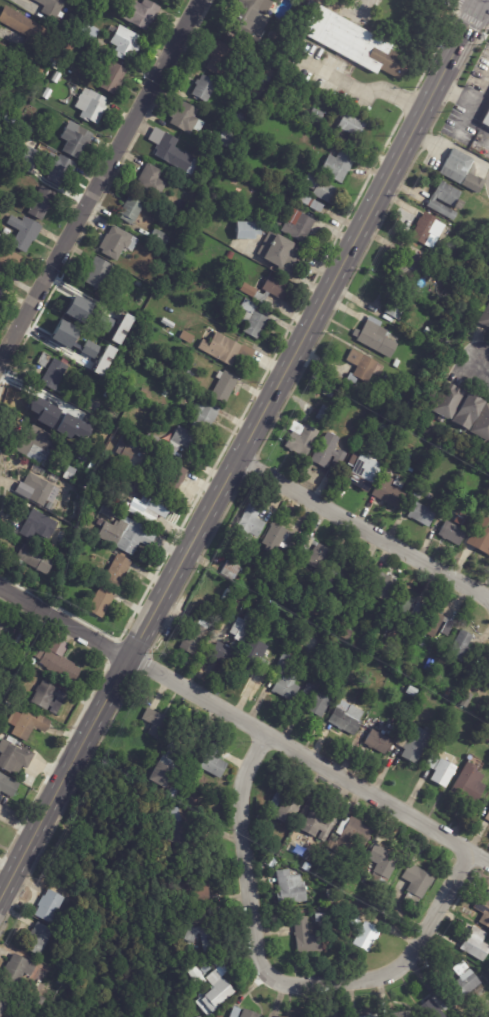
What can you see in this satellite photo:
building: (158, 0)
road: (482, 3)
traffic signals: (482, 3)
building: (310, 4)
road: (359, 4)
building: (49, 7)
building: (86, 12)
building: (137, 14)
building: (246, 16)
building: (23, 28)
building: (84, 32)
building: (481, 36)
building: (354, 43)
building: (123, 44)
building: (68, 46)
building: (4, 52)
building: (45, 59)
building: (219, 60)
building: (38, 69)
building: (266, 75)
building: (109, 79)
road: (362, 84)
building: (201, 88)
building: (299, 96)
road: (465, 98)
building: (88, 107)
building: (316, 115)
building: (5, 117)
building: (182, 117)
building: (485, 119)
building: (237, 120)
building: (12, 121)
building: (21, 125)
building: (347, 128)
building: (29, 130)
building: (74, 140)
building: (225, 140)
building: (0, 146)
building: (171, 152)
building: (18, 155)
building: (311, 166)
building: (335, 167)
building: (454, 167)
building: (57, 169)
building: (215, 169)
road: (100, 180)
building: (148, 182)
building: (470, 183)
building: (319, 190)
building: (443, 201)
building: (307, 203)
building: (40, 205)
building: (128, 210)
building: (191, 217)
building: (272, 223)
building: (295, 226)
building: (245, 231)
building: (425, 231)
building: (22, 233)
building: (156, 238)
building: (114, 246)
building: (228, 255)
building: (278, 255)
building: (7, 259)
building: (159, 262)
building: (407, 267)
building: (97, 274)
building: (138, 284)
building: (266, 290)
building: (0, 291)
building: (0, 294)
building: (392, 304)
building: (77, 306)
building: (485, 319)
building: (250, 321)
building: (104, 323)
building: (121, 329)
building: (426, 332)
building: (63, 333)
building: (184, 337)
building: (372, 338)
building: (89, 349)
building: (222, 349)
building: (111, 359)
building: (103, 360)
building: (394, 364)
building: (360, 366)
building: (51, 372)
building: (188, 375)
road: (479, 375)
building: (193, 384)
building: (221, 387)
building: (142, 394)
building: (326, 394)
building: (394, 402)
building: (445, 402)
building: (408, 406)
building: (37, 407)
building: (467, 412)
building: (322, 413)
building: (201, 416)
building: (481, 425)
building: (99, 437)
building: (299, 441)
building: (172, 442)
building: (33, 444)
road: (243, 449)
building: (122, 453)
building: (324, 456)
building: (409, 456)
building: (80, 458)
building: (89, 467)
building: (360, 471)
building: (485, 472)
building: (67, 474)
building: (171, 481)
building: (397, 483)
building: (32, 490)
building: (386, 496)
building: (418, 509)
building: (150, 510)
building: (487, 510)
building: (103, 515)
building: (38, 521)
building: (249, 523)
building: (453, 530)
road: (363, 531)
building: (92, 532)
building: (480, 535)
building: (123, 536)
building: (277, 539)
building: (313, 553)
building: (25, 559)
building: (230, 569)
building: (341, 571)
building: (115, 572)
building: (380, 584)
building: (320, 590)
building: (261, 592)
building: (224, 596)
building: (241, 598)
building: (99, 601)
building: (403, 607)
building: (308, 613)
building: (269, 615)
road: (67, 618)
building: (317, 618)
building: (3, 623)
building: (433, 624)
building: (328, 627)
building: (343, 633)
building: (193, 635)
building: (237, 642)
building: (463, 650)
building: (39, 653)
building: (0, 656)
building: (252, 658)
building: (485, 658)
building: (1, 664)
building: (62, 666)
building: (487, 673)
building: (488, 677)
building: (283, 679)
building: (392, 685)
building: (449, 694)
building: (45, 695)
building: (316, 698)
building: (466, 699)
building: (59, 706)
building: (345, 718)
building: (153, 723)
building: (32, 726)
building: (388, 728)
building: (486, 738)
building: (145, 740)
building: (377, 741)
building: (411, 744)
building: (15, 758)
road: (310, 758)
building: (212, 761)
building: (438, 770)
building: (154, 774)
building: (466, 784)
building: (9, 785)
building: (169, 793)
building: (282, 808)
building: (487, 817)
building: (314, 823)
building: (177, 830)
building: (347, 835)
road: (245, 853)
building: (324, 854)
building: (269, 862)
building: (379, 864)
building: (363, 867)
building: (305, 868)
building: (414, 883)
building: (289, 887)
building: (192, 893)
building: (47, 905)
building: (483, 911)
building: (318, 918)
building: (361, 933)
building: (201, 937)
building: (303, 938)
building: (36, 939)
building: (474, 944)
road: (399, 966)
building: (15, 970)
building: (196, 974)
building: (463, 981)
building: (214, 990)
building: (3, 1001)
building: (36, 1001)
building: (434, 1006)
park: (18, 1007)
building: (232, 1012)
building: (245, 1014)
building: (397, 1014)
building: (218, 1016)
building: (280, 1016)
building: (372, 1016)

